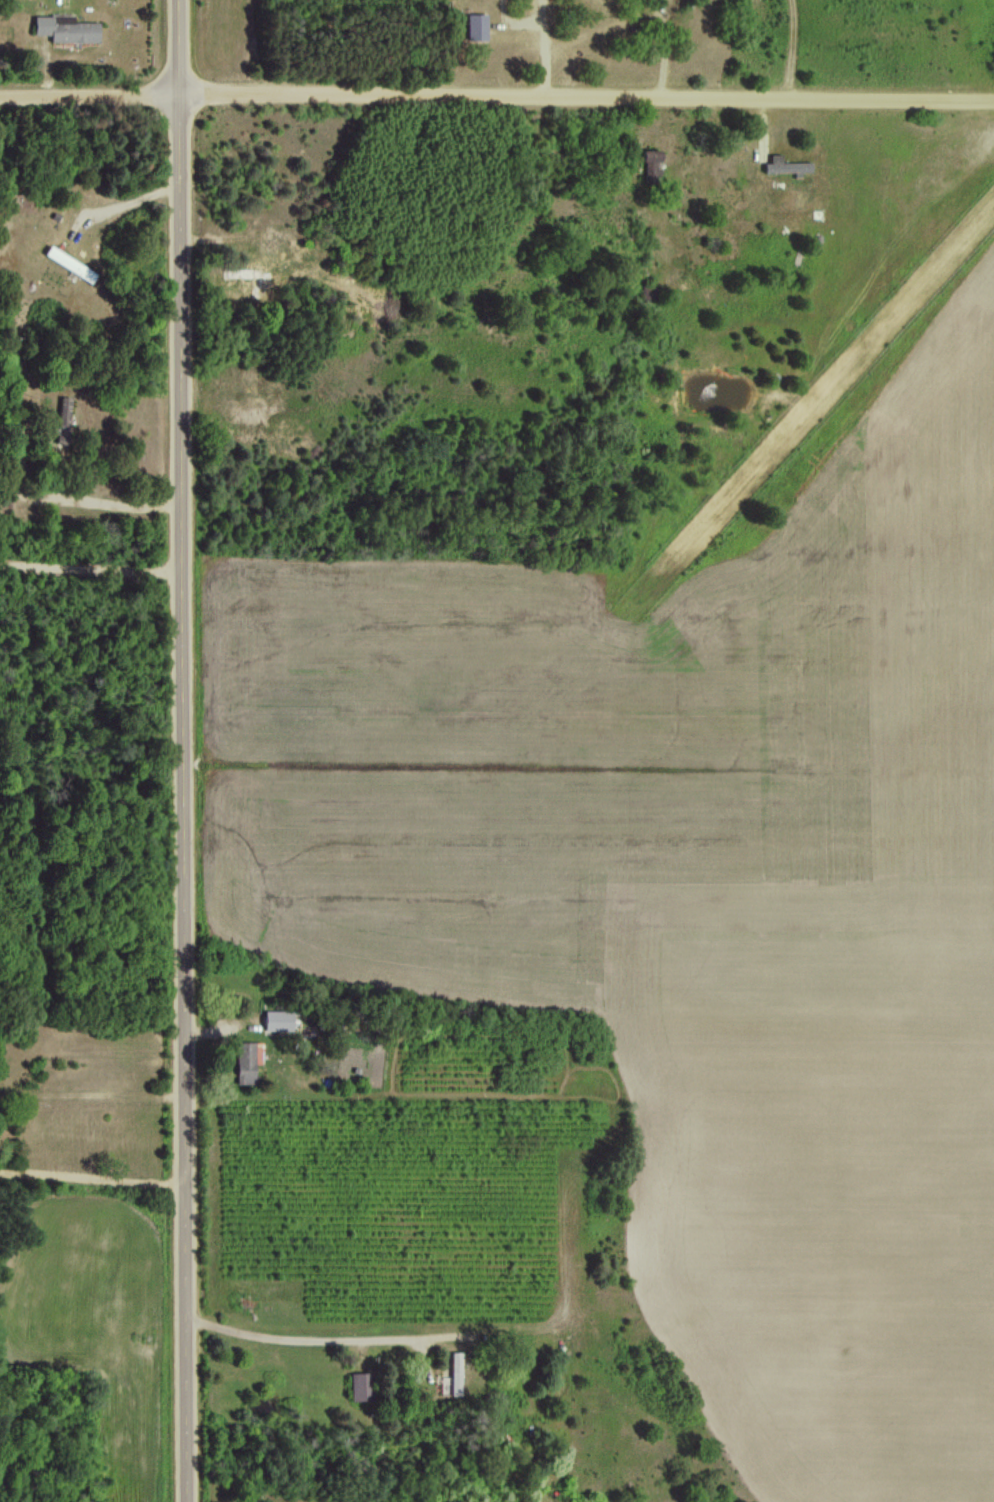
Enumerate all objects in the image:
building: (477, 26)
building: (66, 28)
road: (497, 96)
building: (651, 164)
building: (786, 165)
building: (63, 421)
road: (98, 501)
road: (90, 569)
road: (182, 751)
building: (278, 1020)
road: (92, 1180)
road: (318, 1338)
building: (455, 1372)
building: (359, 1385)

